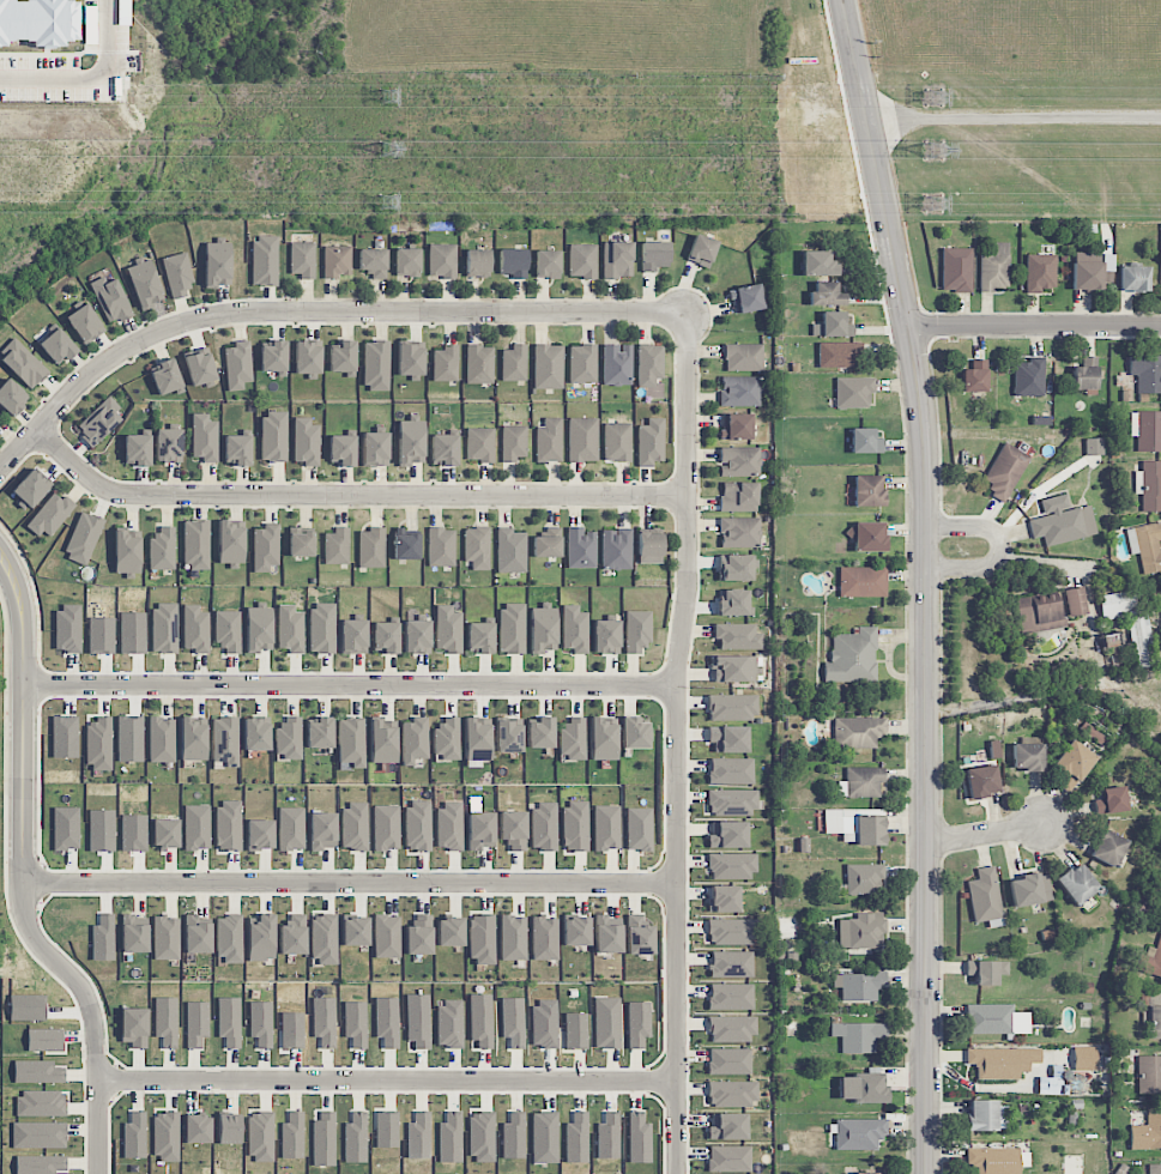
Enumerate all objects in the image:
building: (38, 22)
road: (89, 73)
power tower: (389, 97)
power tower: (937, 98)
road: (1014, 117)
power tower: (389, 149)
power tower: (935, 151)
power tower: (388, 204)
power tower: (937, 205)
building: (701, 250)
building: (654, 256)
building: (302, 260)
building: (442, 260)
building: (617, 260)
building: (264, 261)
building: (337, 261)
building: (582, 261)
building: (373, 262)
building: (407, 262)
building: (513, 262)
building: (217, 264)
building: (477, 264)
building: (548, 264)
building: (817, 264)
building: (994, 268)
building: (956, 270)
building: (1087, 271)
building: (1040, 272)
building: (177, 274)
building: (1133, 278)
building: (144, 283)
building: (826, 295)
building: (746, 298)
building: (110, 299)
road: (315, 310)
building: (84, 323)
building: (832, 326)
road: (1034, 326)
building: (58, 346)
building: (834, 355)
building: (273, 356)
building: (343, 357)
building: (743, 357)
building: (308, 358)
building: (410, 359)
building: (446, 363)
building: (514, 363)
building: (582, 363)
building: (23, 364)
building: (479, 364)
building: (617, 364)
building: (649, 364)
building: (238, 365)
building: (376, 367)
building: (548, 367)
building: (200, 368)
building: (1145, 373)
building: (1084, 374)
building: (165, 376)
building: (974, 376)
building: (1028, 381)
building: (739, 391)
building: (854, 392)
building: (11, 395)
building: (0, 416)
building: (99, 422)
building: (736, 426)
building: (1147, 430)
building: (273, 436)
building: (205, 437)
building: (582, 440)
building: (411, 441)
building: (549, 441)
building: (865, 441)
building: (307, 442)
building: (514, 442)
building: (617, 442)
building: (649, 442)
building: (169, 444)
building: (479, 444)
building: (1094, 447)
building: (237, 449)
building: (343, 449)
building: (375, 449)
building: (443, 449)
building: (137, 450)
building: (739, 461)
building: (1005, 471)
building: (1149, 485)
building: (30, 489)
building: (867, 490)
road: (350, 496)
building: (738, 497)
building: (50, 515)
building: (1062, 521)
building: (739, 532)
building: (867, 537)
building: (83, 538)
building: (301, 541)
building: (230, 543)
building: (196, 544)
building: (406, 545)
building: (337, 546)
building: (546, 546)
building: (649, 546)
road: (1002, 546)
building: (1147, 546)
building: (266, 547)
building: (371, 547)
building: (441, 547)
building: (477, 547)
building: (581, 549)
building: (616, 549)
building: (162, 550)
building: (510, 551)
building: (127, 552)
building: (734, 568)
building: (863, 582)
road: (927, 582)
road: (685, 595)
building: (1076, 601)
building: (733, 603)
building: (1117, 605)
building: (1038, 613)
building: (164, 628)
building: (259, 628)
building: (512, 628)
building: (195, 629)
building: (290, 629)
building: (322, 629)
building: (448, 629)
building: (543, 629)
building: (575, 629)
building: (637, 630)
building: (228, 631)
building: (353, 636)
building: (417, 636)
building: (606, 636)
building: (738, 636)
building: (385, 637)
building: (479, 637)
building: (1142, 640)
building: (852, 656)
building: (737, 668)
road: (350, 685)
building: (733, 707)
road: (23, 713)
building: (319, 732)
building: (858, 732)
building: (540, 733)
building: (634, 733)
building: (256, 734)
building: (508, 736)
building: (289, 738)
building: (129, 739)
building: (447, 739)
building: (603, 739)
building: (728, 739)
building: (162, 740)
building: (193, 740)
building: (413, 740)
building: (477, 740)
building: (573, 740)
building: (225, 742)
building: (351, 742)
building: (382, 742)
building: (98, 743)
building: (1028, 756)
building: (1072, 764)
building: (731, 771)
building: (982, 781)
building: (861, 782)
building: (1112, 800)
building: (732, 803)
building: (229, 825)
building: (449, 825)
building: (576, 825)
building: (855, 825)
building: (196, 827)
building: (355, 827)
building: (418, 827)
building: (544, 827)
building: (386, 828)
building: (606, 828)
building: (291, 829)
building: (513, 829)
building: (639, 829)
building: (323, 830)
building: (480, 830)
building: (165, 833)
road: (987, 834)
building: (260, 835)
building: (727, 835)
building: (1108, 848)
building: (732, 866)
building: (864, 878)
road: (349, 879)
building: (1077, 884)
building: (1030, 889)
building: (984, 896)
building: (722, 898)
building: (1159, 904)
building: (355, 931)
building: (576, 931)
building: (732, 931)
building: (451, 932)
building: (861, 932)
building: (134, 934)
building: (196, 934)
building: (294, 934)
building: (607, 934)
building: (387, 936)
building: (419, 936)
building: (639, 936)
building: (103, 938)
building: (165, 938)
building: (229, 938)
building: (261, 938)
building: (513, 938)
building: (545, 938)
building: (482, 940)
building: (1151, 960)
building: (731, 964)
building: (986, 972)
building: (859, 986)
building: (731, 997)
building: (1154, 1010)
road: (91, 1015)
building: (996, 1019)
building: (418, 1021)
building: (167, 1022)
building: (230, 1022)
building: (323, 1022)
building: (387, 1022)
building: (482, 1022)
building: (513, 1022)
building: (607, 1022)
building: (196, 1023)
building: (261, 1023)
building: (356, 1023)
building: (545, 1023)
building: (449, 1024)
building: (639, 1024)
building: (134, 1027)
road: (675, 1027)
building: (732, 1029)
building: (292, 1030)
building: (575, 1030)
building: (858, 1036)
building: (44, 1040)
building: (1084, 1059)
building: (730, 1061)
building: (1002, 1061)
building: (38, 1072)
building: (1149, 1075)
road: (385, 1078)
building: (1048, 1085)
building: (863, 1088)
building: (731, 1094)
building: (40, 1103)
building: (986, 1115)
building: (727, 1126)
building: (196, 1128)
building: (229, 1128)
building: (387, 1128)
building: (1145, 1132)
building: (858, 1133)
building: (38, 1134)
building: (134, 1136)
building: (292, 1136)
building: (418, 1136)
building: (513, 1136)
building: (165, 1137)
building: (261, 1137)
building: (482, 1137)
building: (544, 1137)
building: (609, 1137)
building: (356, 1138)
building: (451, 1138)
building: (576, 1138)
building: (639, 1138)
building: (323, 1139)
building: (730, 1158)
building: (994, 1160)
building: (40, 1164)
building: (1154, 1169)
building: (861, 1173)

